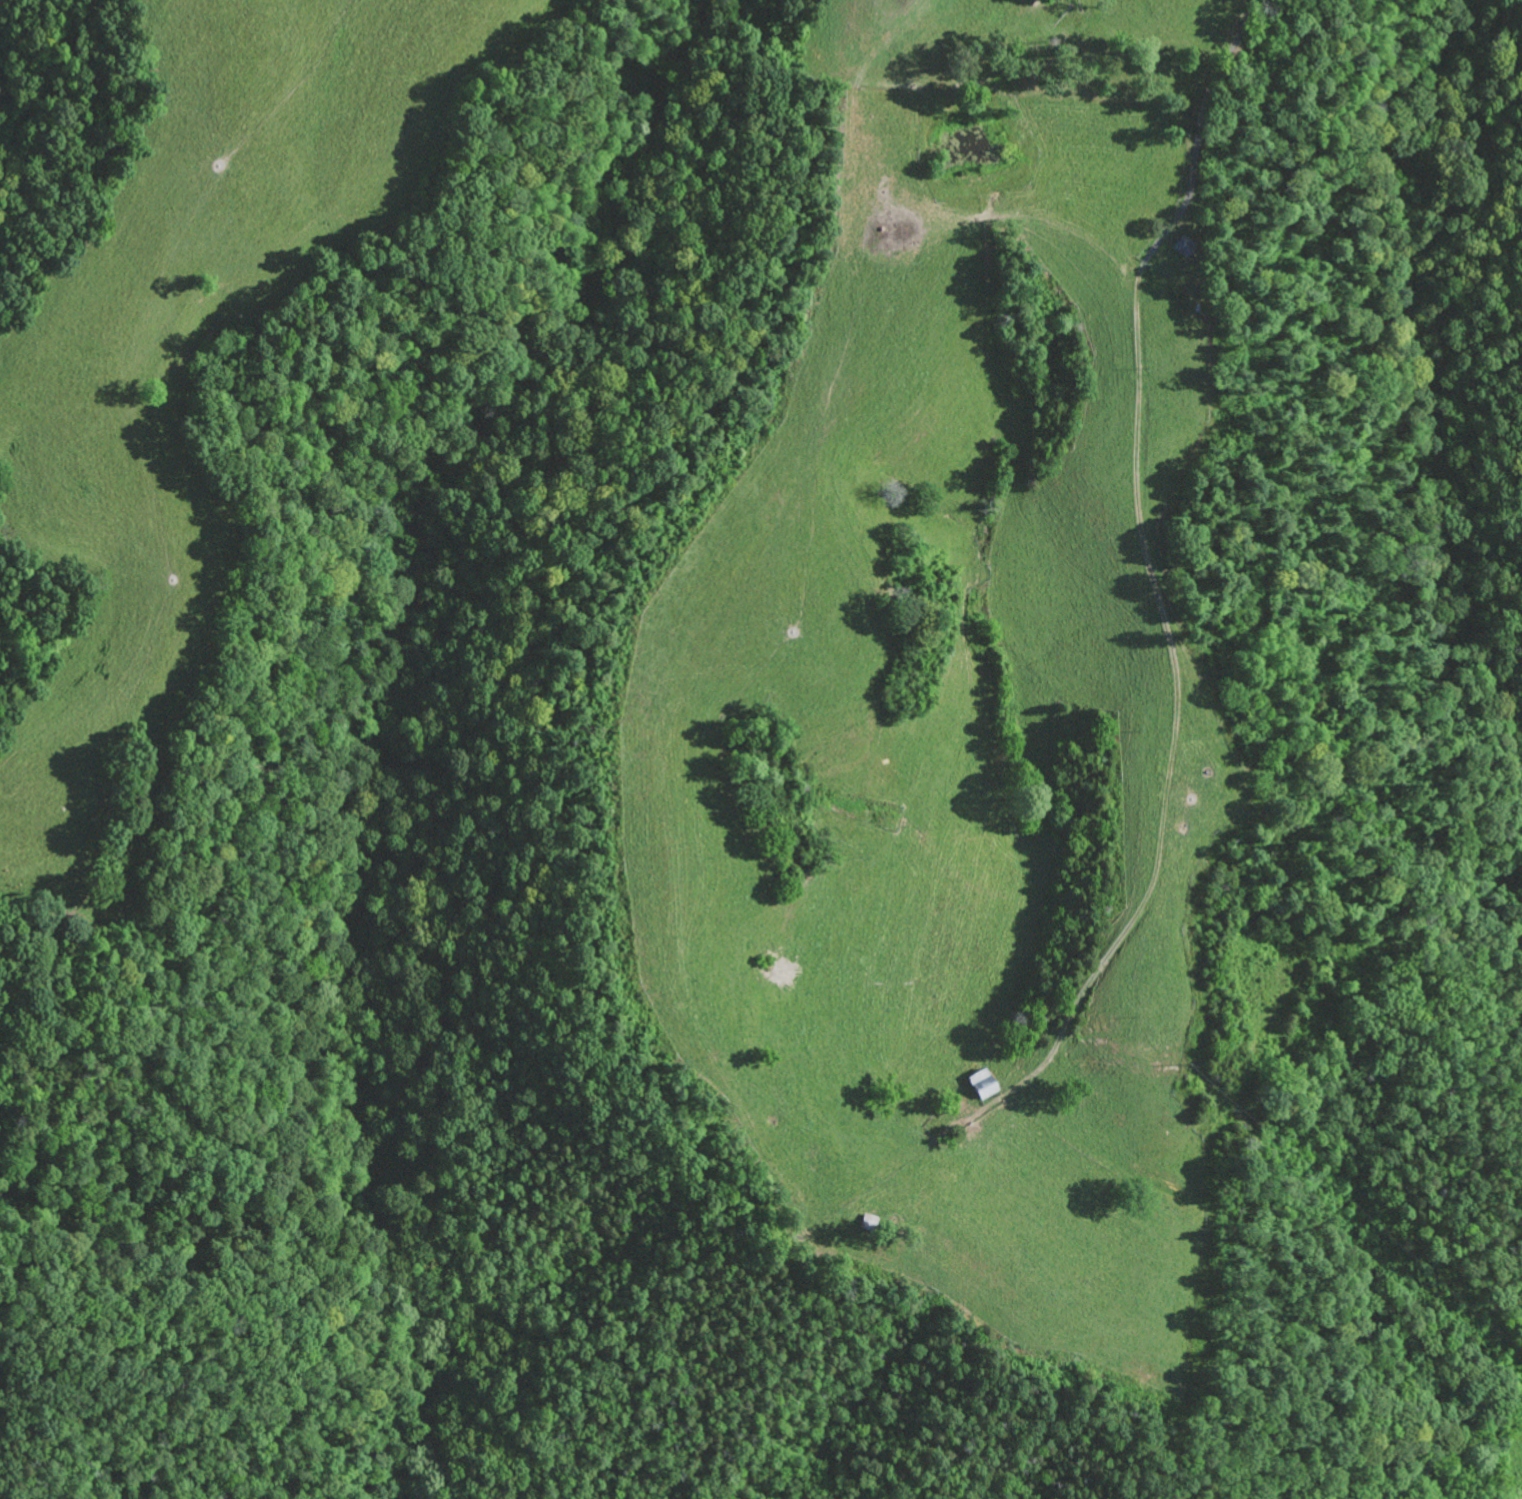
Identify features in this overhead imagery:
road: (1226, 56)

